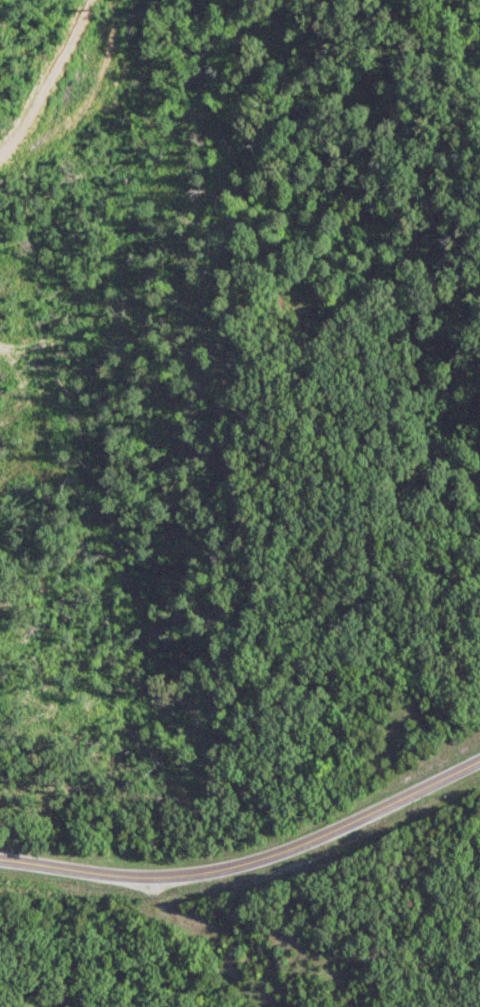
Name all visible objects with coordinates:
road: (250, 867)

